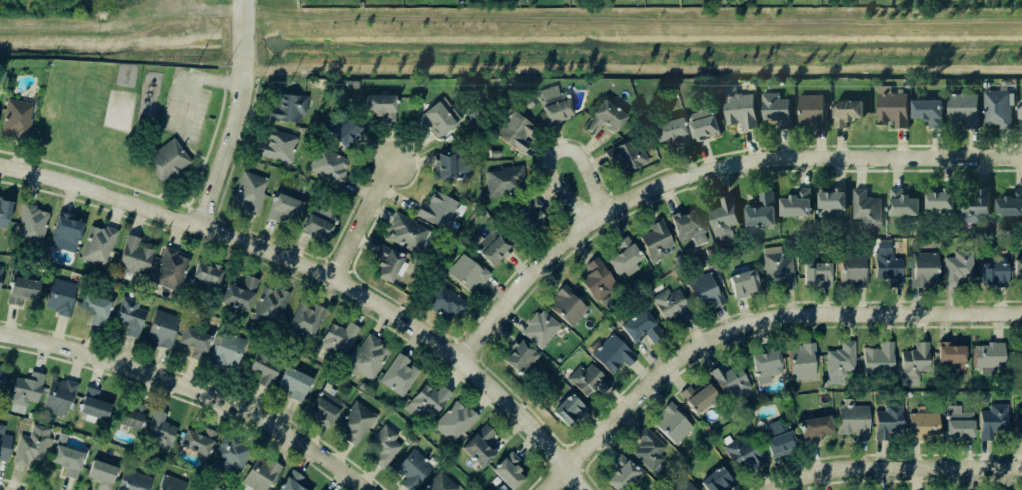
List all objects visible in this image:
road: (221, 34)
road: (180, 71)
road: (217, 81)
road: (167, 99)
road: (186, 103)
building: (548, 105)
building: (773, 106)
building: (378, 107)
parking lot: (184, 108)
building: (737, 108)
building: (891, 108)
building: (286, 109)
building: (996, 109)
park: (117, 110)
building: (961, 111)
building: (810, 112)
building: (844, 112)
building: (926, 112)
building: (1019, 114)
road: (235, 116)
building: (436, 117)
building: (15, 119)
building: (602, 119)
park: (207, 121)
building: (702, 124)
building: (666, 130)
park: (102, 132)
building: (512, 132)
building: (343, 133)
road: (180, 144)
building: (274, 147)
park: (211, 150)
road: (554, 151)
building: (492, 153)
building: (623, 156)
building: (165, 161)
building: (326, 165)
building: (449, 166)
road: (705, 170)
road: (179, 179)
building: (501, 181)
park: (189, 183)
road: (184, 193)
building: (246, 194)
road: (161, 199)
building: (938, 199)
building: (830, 203)
building: (795, 204)
building: (900, 204)
building: (1009, 204)
building: (974, 207)
building: (281, 209)
building: (435, 210)
building: (865, 210)
building: (760, 211)
building: (3, 212)
building: (529, 216)
building: (722, 217)
road: (362, 219)
building: (29, 225)
building: (315, 225)
building: (686, 228)
building: (64, 230)
building: (404, 233)
building: (654, 242)
building: (96, 245)
building: (491, 247)
building: (132, 258)
building: (622, 258)
building: (385, 263)
building: (775, 268)
building: (888, 268)
building: (169, 269)
building: (850, 270)
building: (921, 270)
building: (956, 270)
building: (1019, 270)
building: (991, 272)
building: (0, 274)
building: (466, 274)
building: (205, 275)
road: (322, 275)
building: (814, 276)
building: (595, 280)
building: (741, 284)
building: (20, 291)
building: (703, 292)
building: (237, 294)
building: (59, 298)
building: (441, 301)
building: (269, 304)
building: (565, 305)
building: (669, 306)
building: (91, 308)
building: (128, 317)
building: (304, 319)
road: (752, 322)
building: (639, 328)
building: (538, 329)
building: (160, 330)
building: (334, 341)
building: (191, 342)
building: (224, 350)
building: (610, 355)
building: (949, 356)
building: (367, 357)
building: (1015, 357)
building: (518, 358)
building: (988, 359)
building: (838, 360)
building: (876, 360)
building: (800, 361)
building: (912, 361)
building: (764, 366)
building: (261, 370)
building: (1, 374)
building: (395, 376)
building: (728, 379)
building: (587, 380)
building: (292, 384)
building: (24, 389)
road: (191, 391)
building: (57, 396)
building: (696, 397)
building: (424, 401)
building: (90, 404)
building: (323, 409)
building: (567, 412)
building: (128, 416)
building: (851, 419)
building: (452, 420)
building: (886, 421)
building: (991, 421)
building: (670, 423)
building: (353, 424)
building: (956, 425)
building: (1018, 425)
building: (921, 426)
building: (812, 427)
building: (0, 428)
building: (159, 431)
building: (776, 440)
building: (195, 441)
building: (29, 446)
building: (3, 447)
building: (381, 447)
building: (475, 447)
building: (647, 449)
building: (228, 454)
building: (741, 454)
building: (65, 461)
road: (895, 468)
building: (410, 470)
building: (506, 471)
building: (259, 473)
building: (618, 473)
building: (98, 474)
building: (715, 480)
building: (132, 481)
building: (289, 481)
building: (438, 482)
building: (168, 483)
building: (681, 487)
building: (211, 488)

